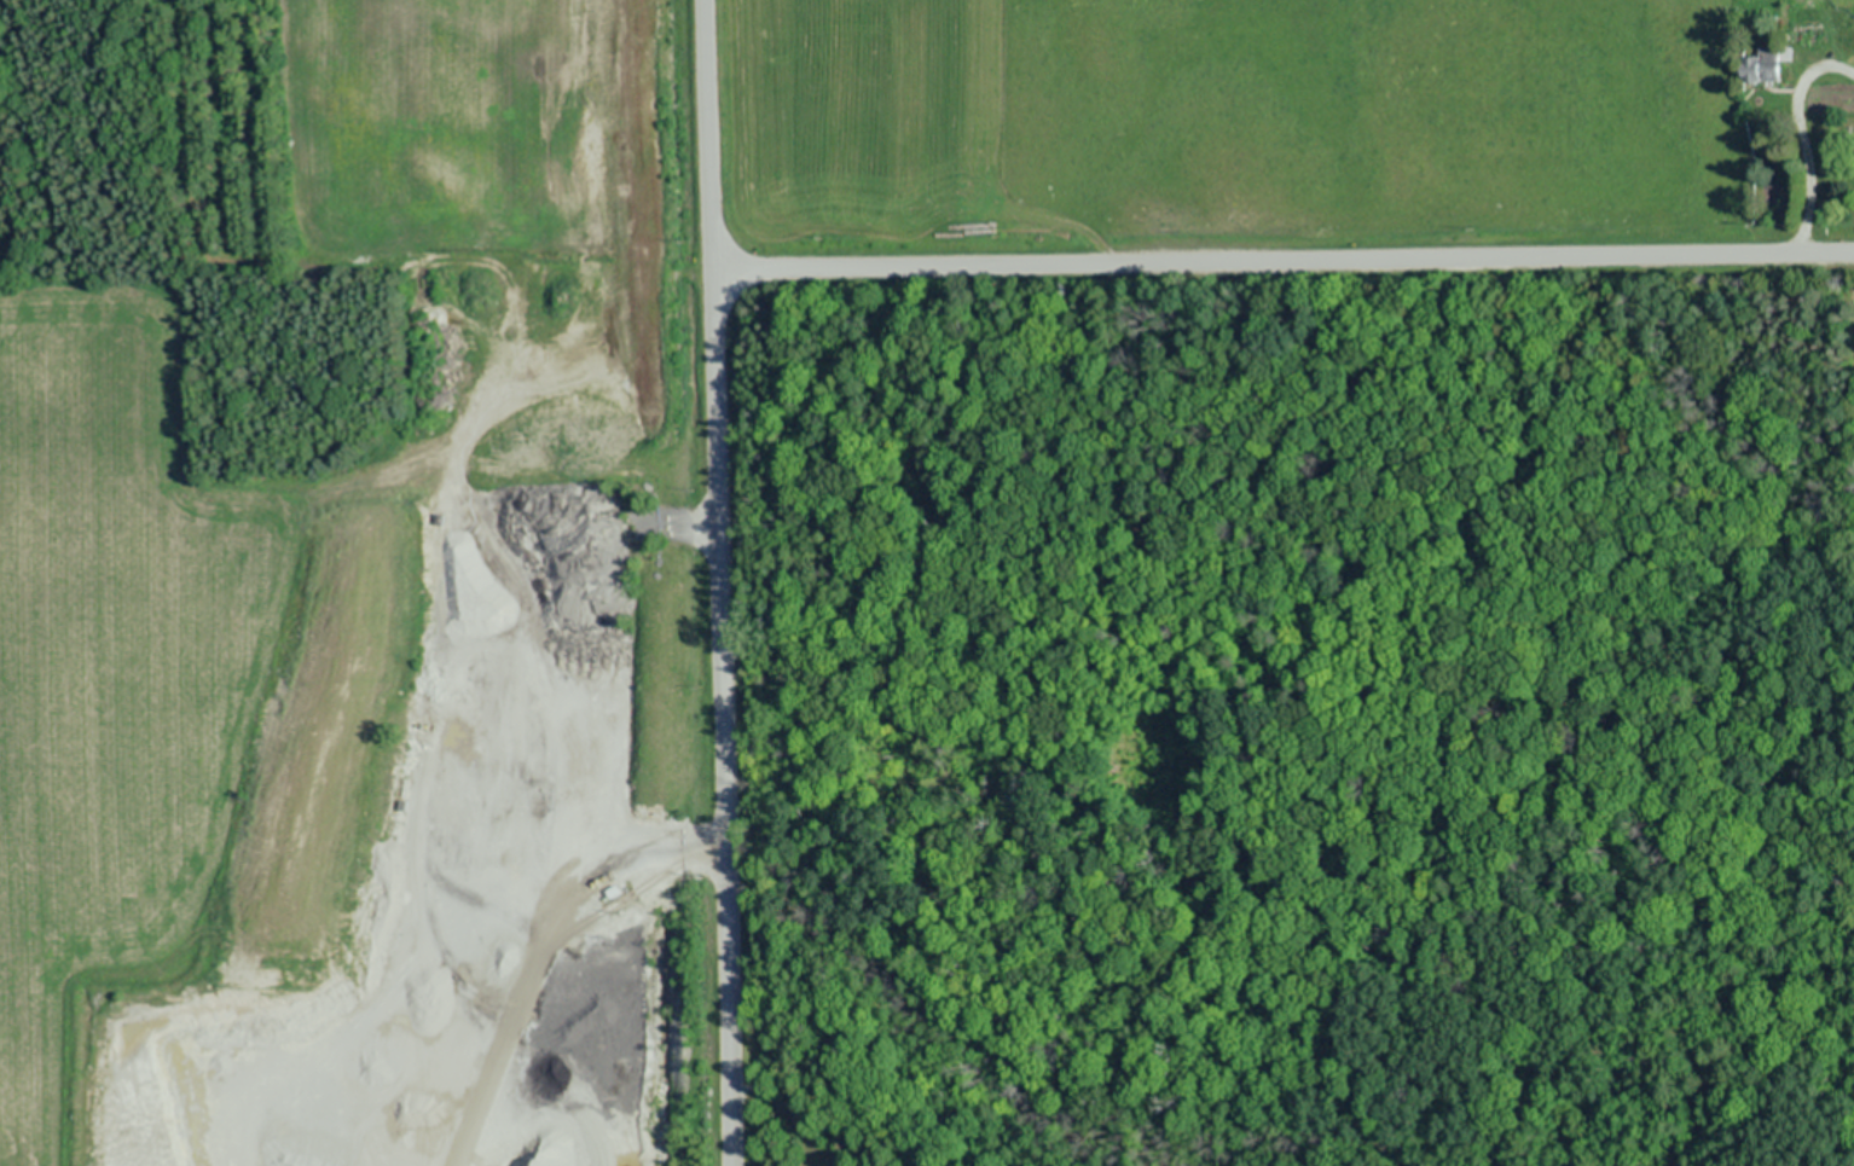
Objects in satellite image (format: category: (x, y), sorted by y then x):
building: (1769, 63)
road: (1284, 260)
road: (724, 582)
quarry: (355, 586)

